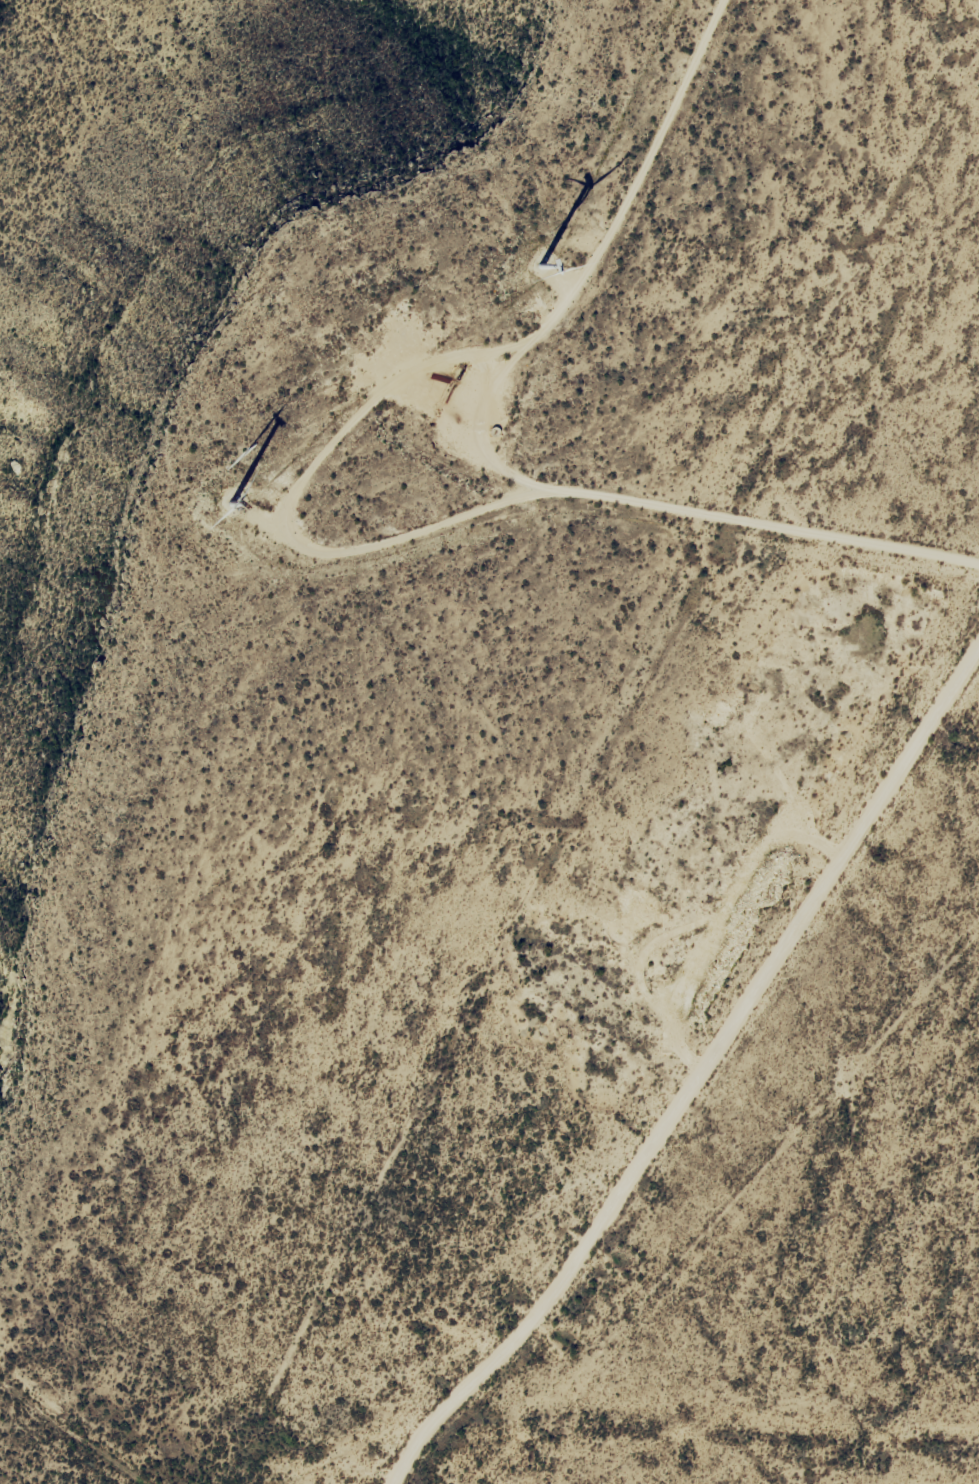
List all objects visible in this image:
wind turbine: (538, 274)
wind turbine: (227, 501)
road: (717, 1100)

